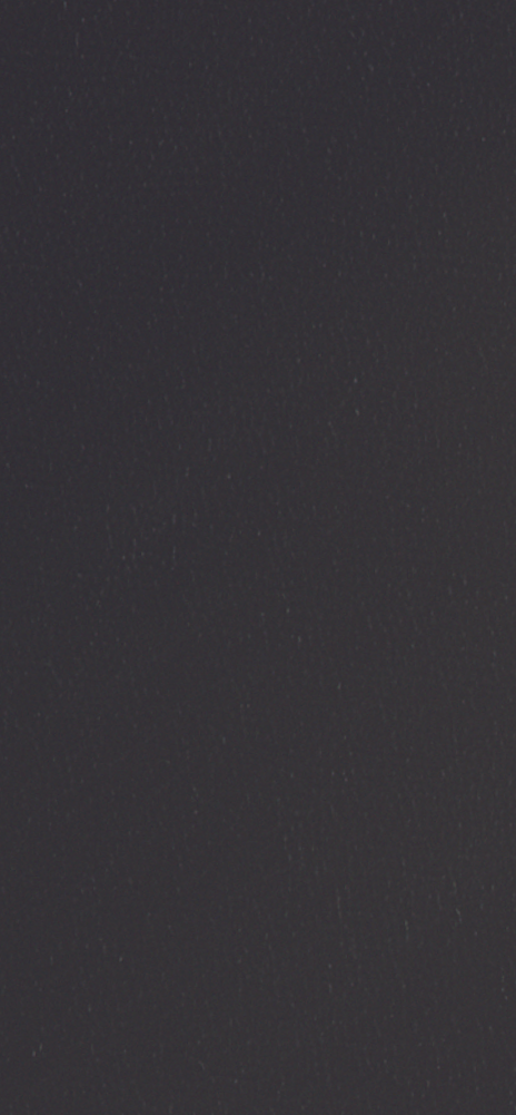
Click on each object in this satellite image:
river: (190, 387)

